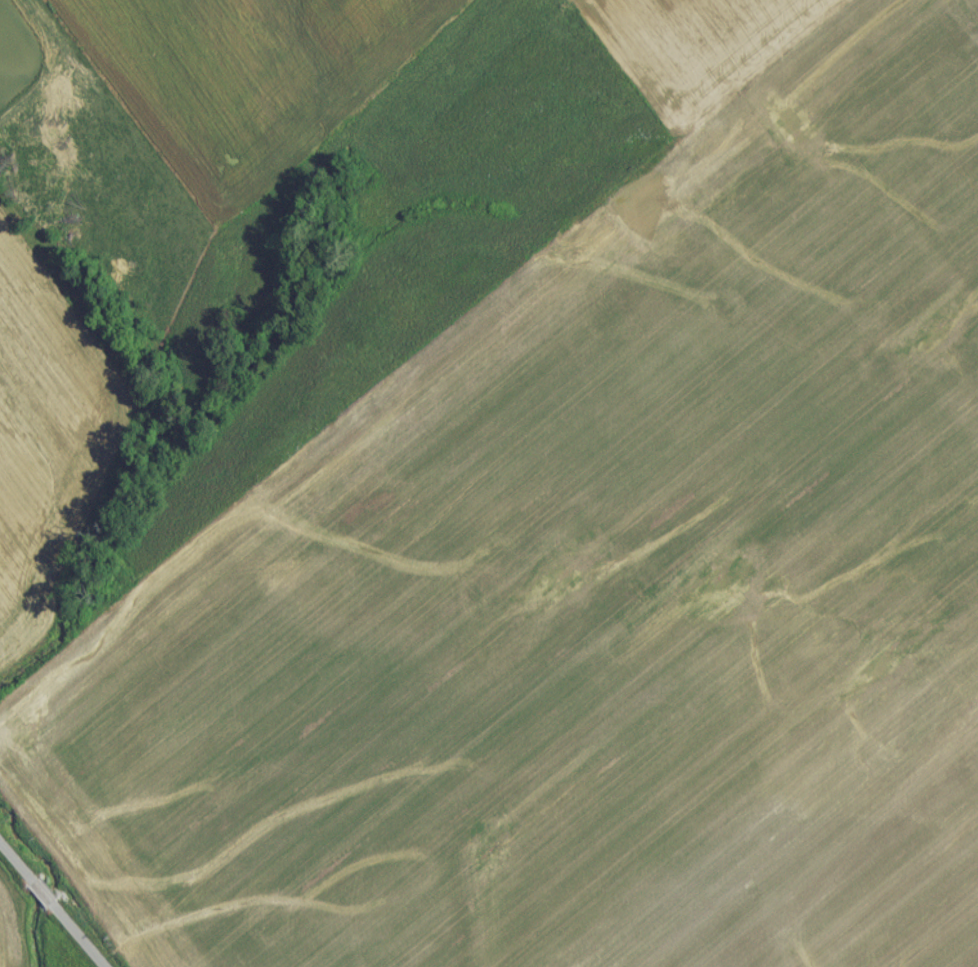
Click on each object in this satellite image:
road: (52, 905)

